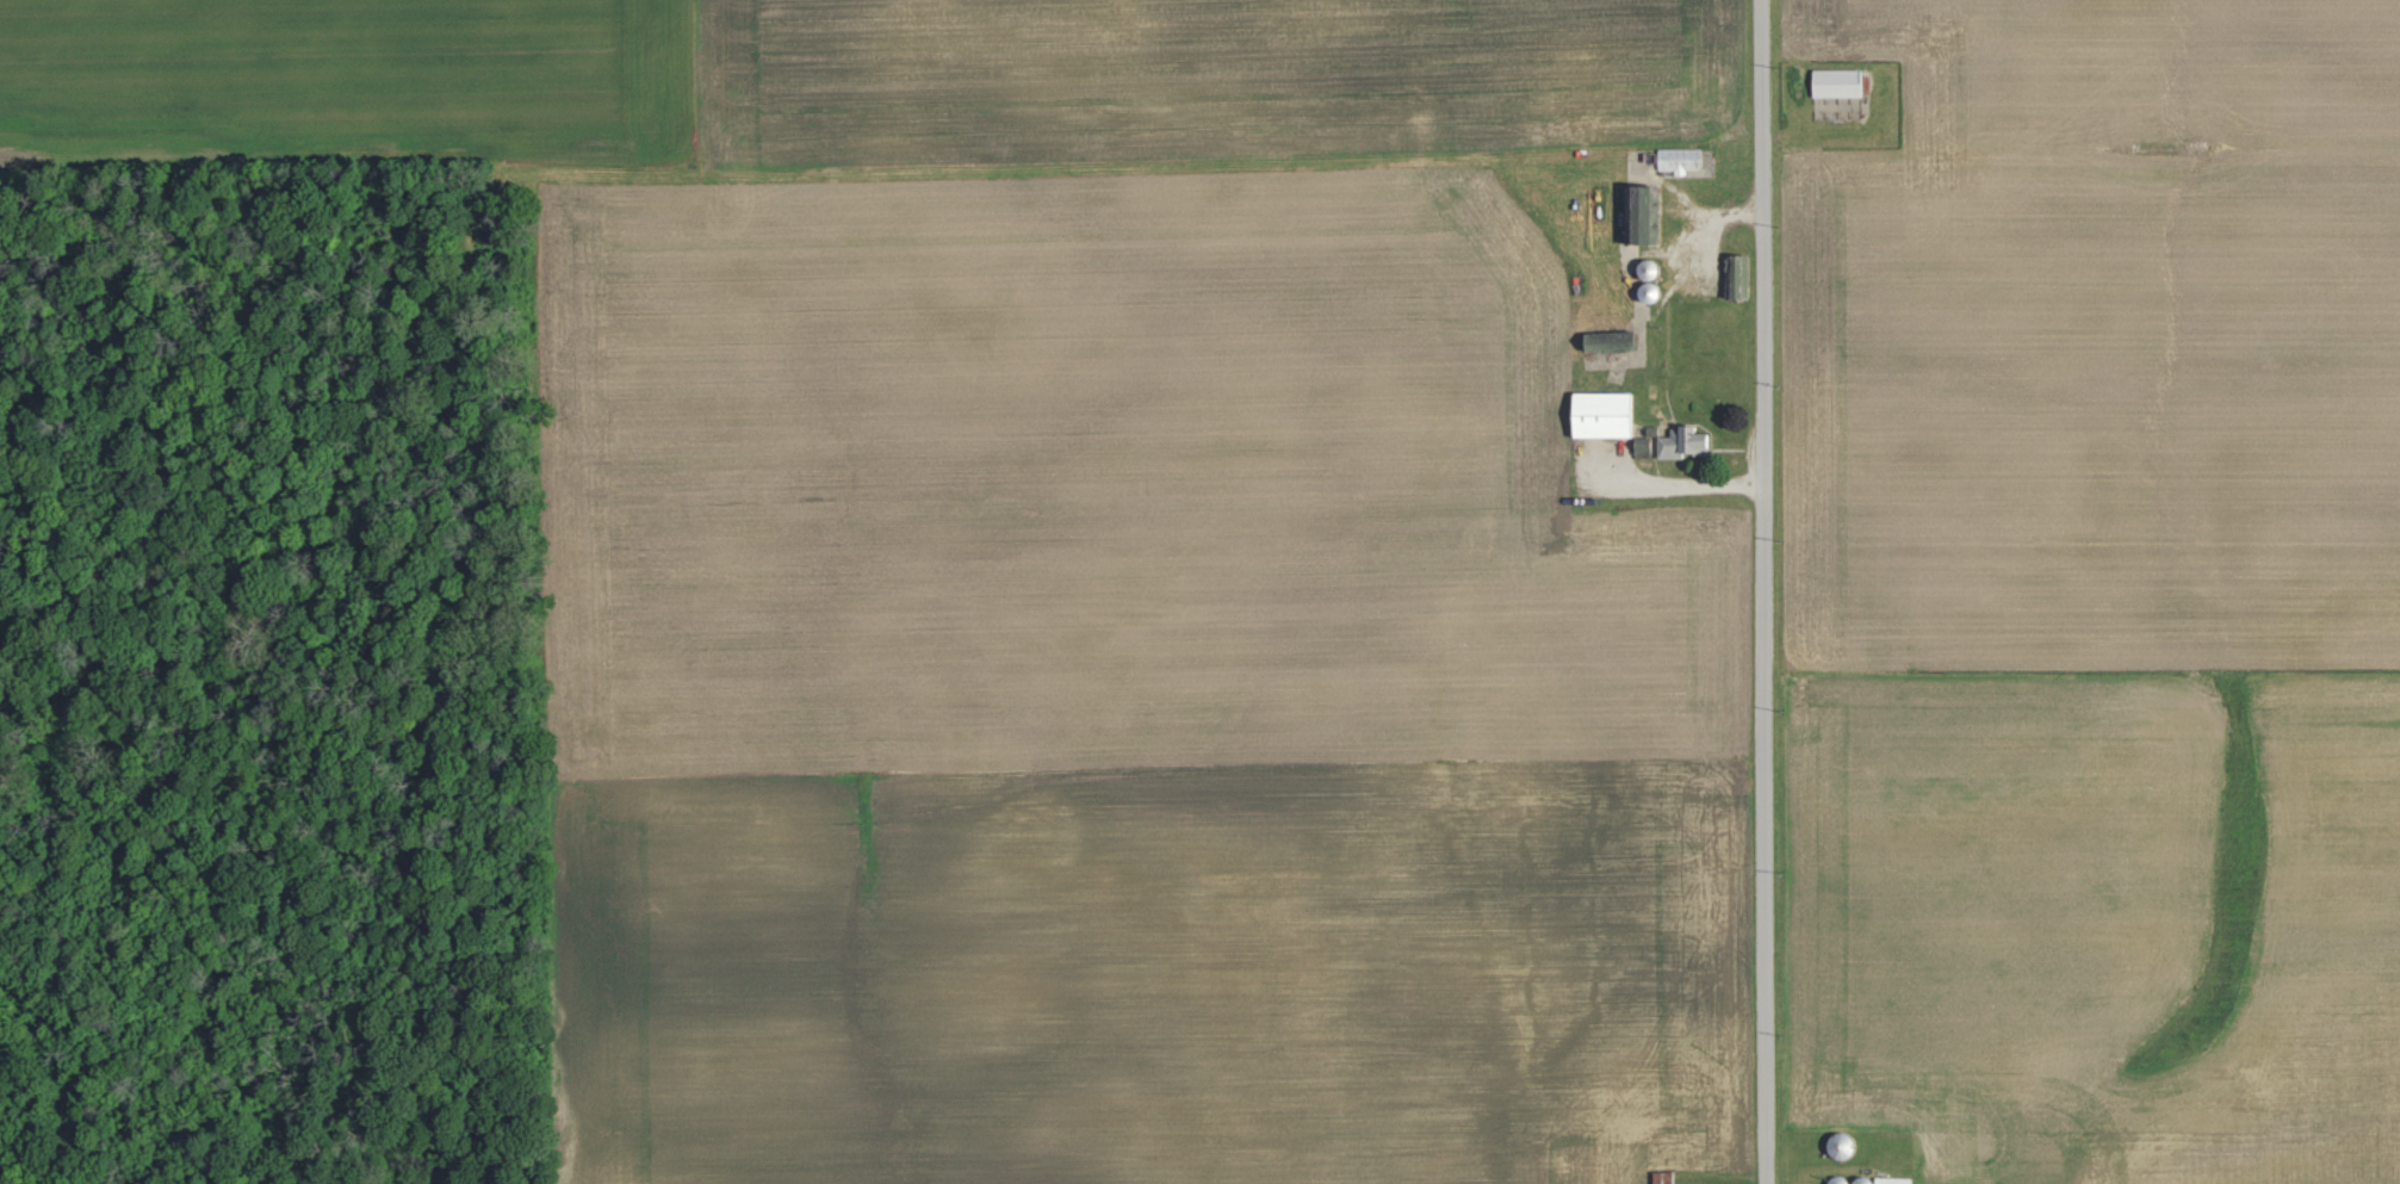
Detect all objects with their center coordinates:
building: (1840, 82)
building: (1680, 159)
building: (1645, 219)
building: (1605, 415)
building: (1687, 442)
road: (1675, 484)
road: (1773, 591)
building: (1663, 1177)
building: (1885, 1179)

